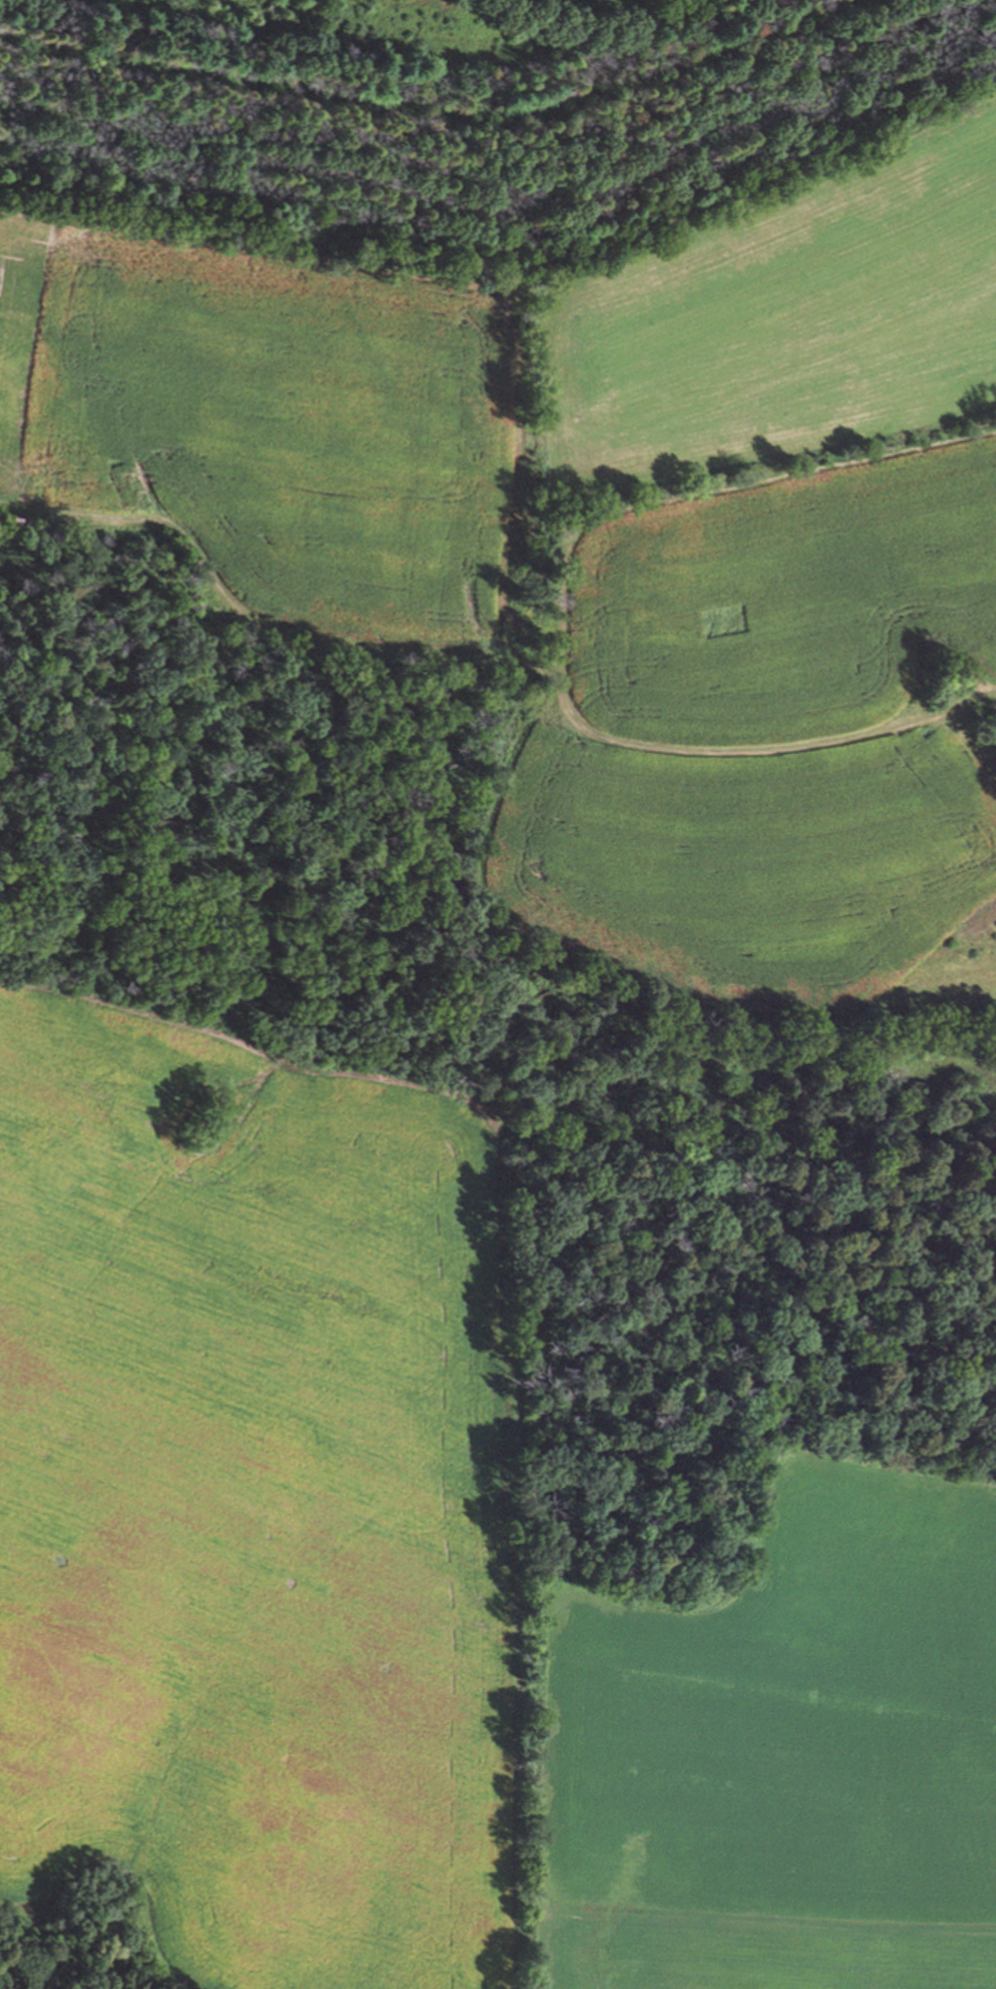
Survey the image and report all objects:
road: (519, 638)

